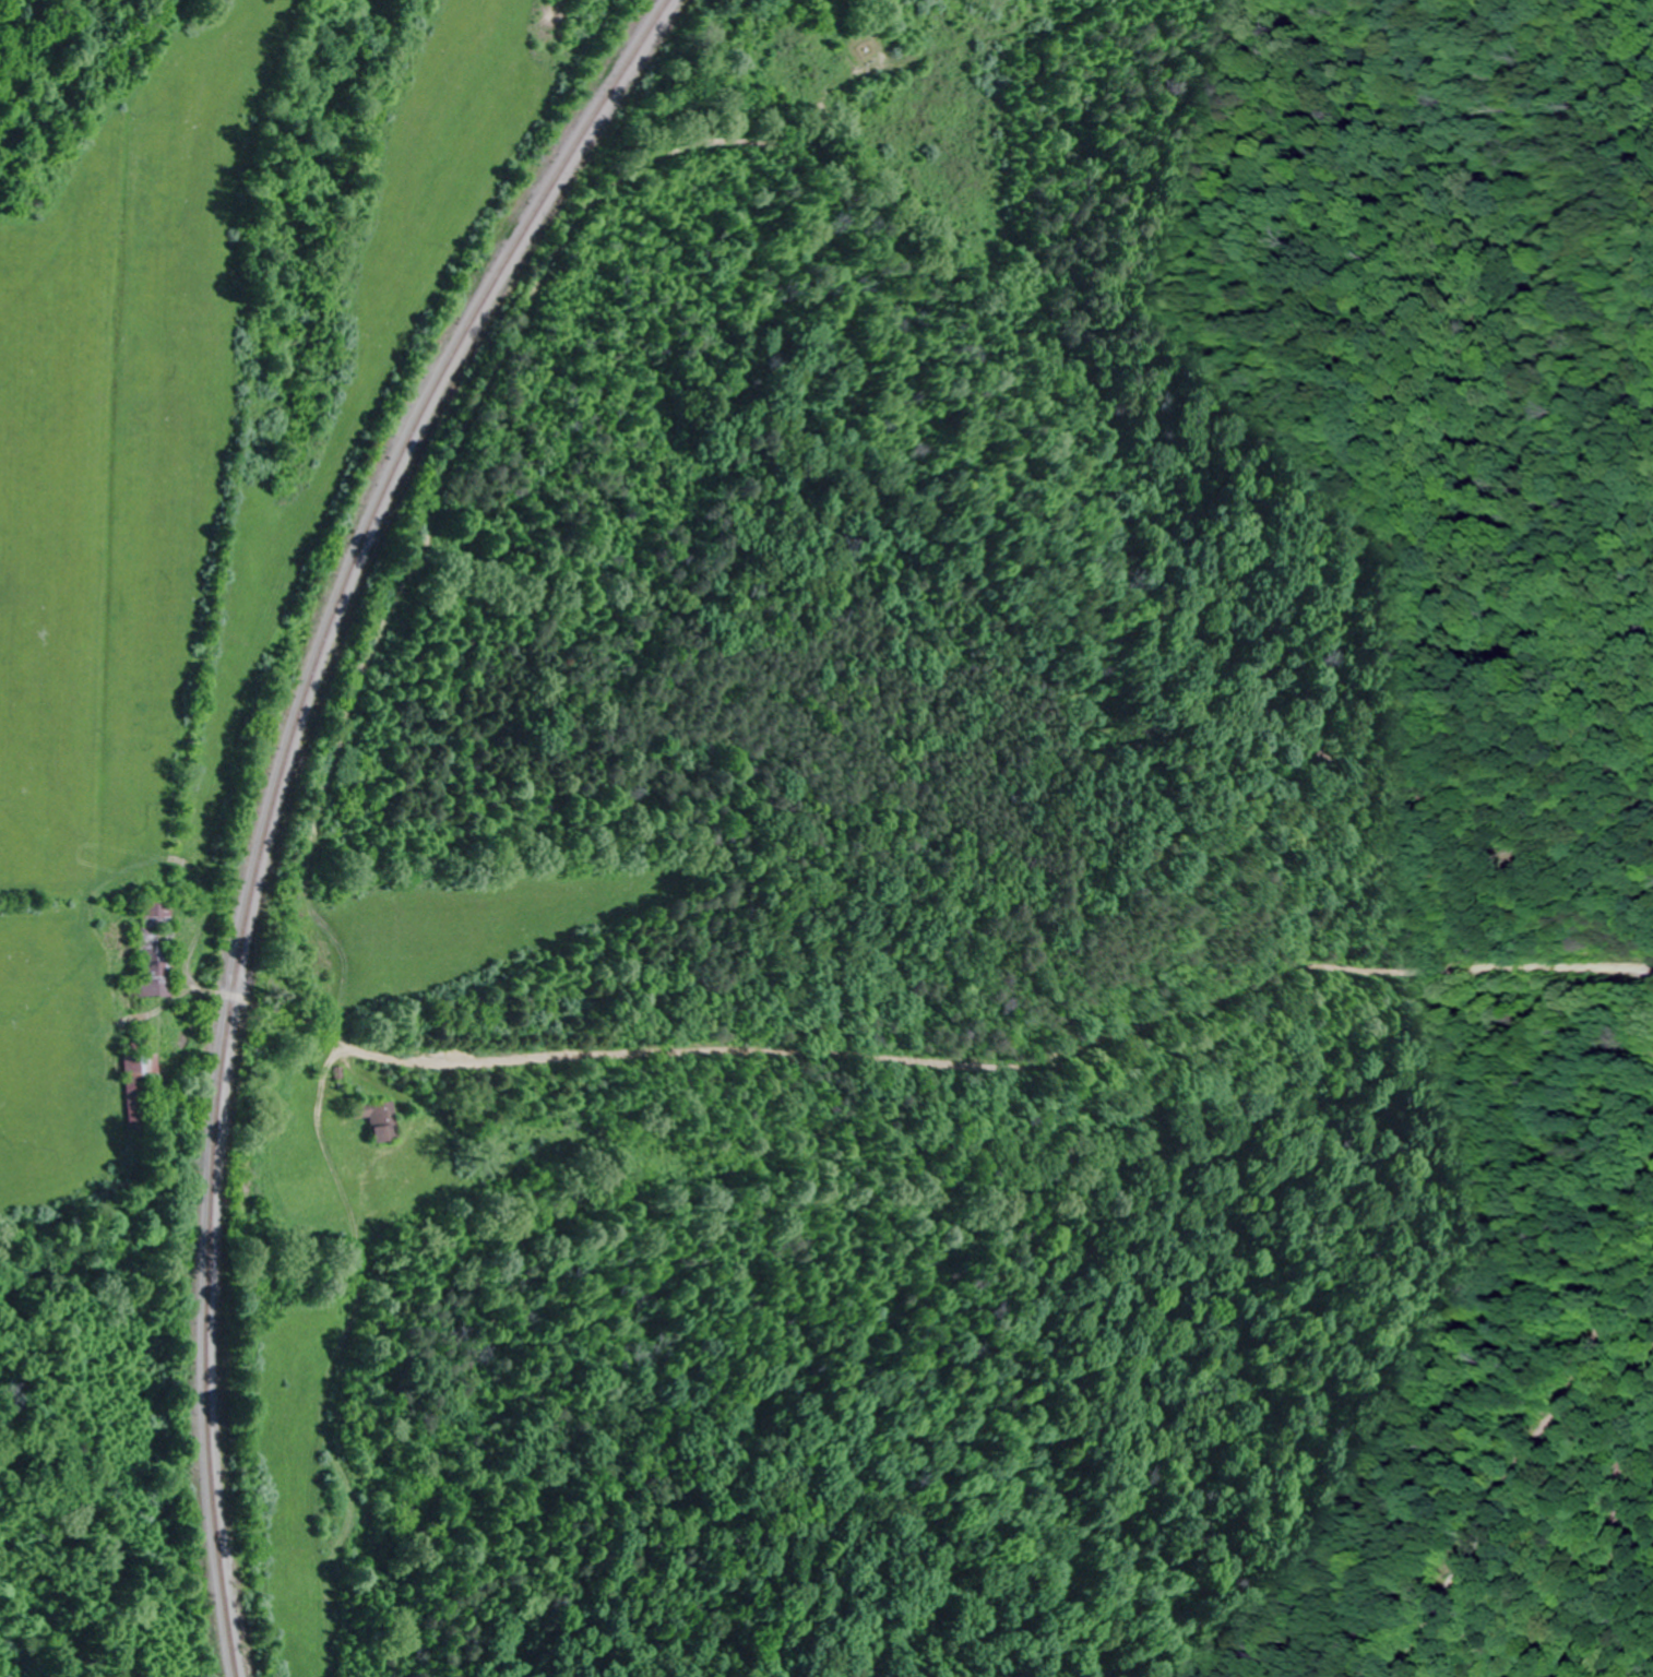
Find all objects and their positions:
railway: (277, 796)
building: (154, 948)
road: (816, 999)
building: (136, 1066)
building: (381, 1119)

